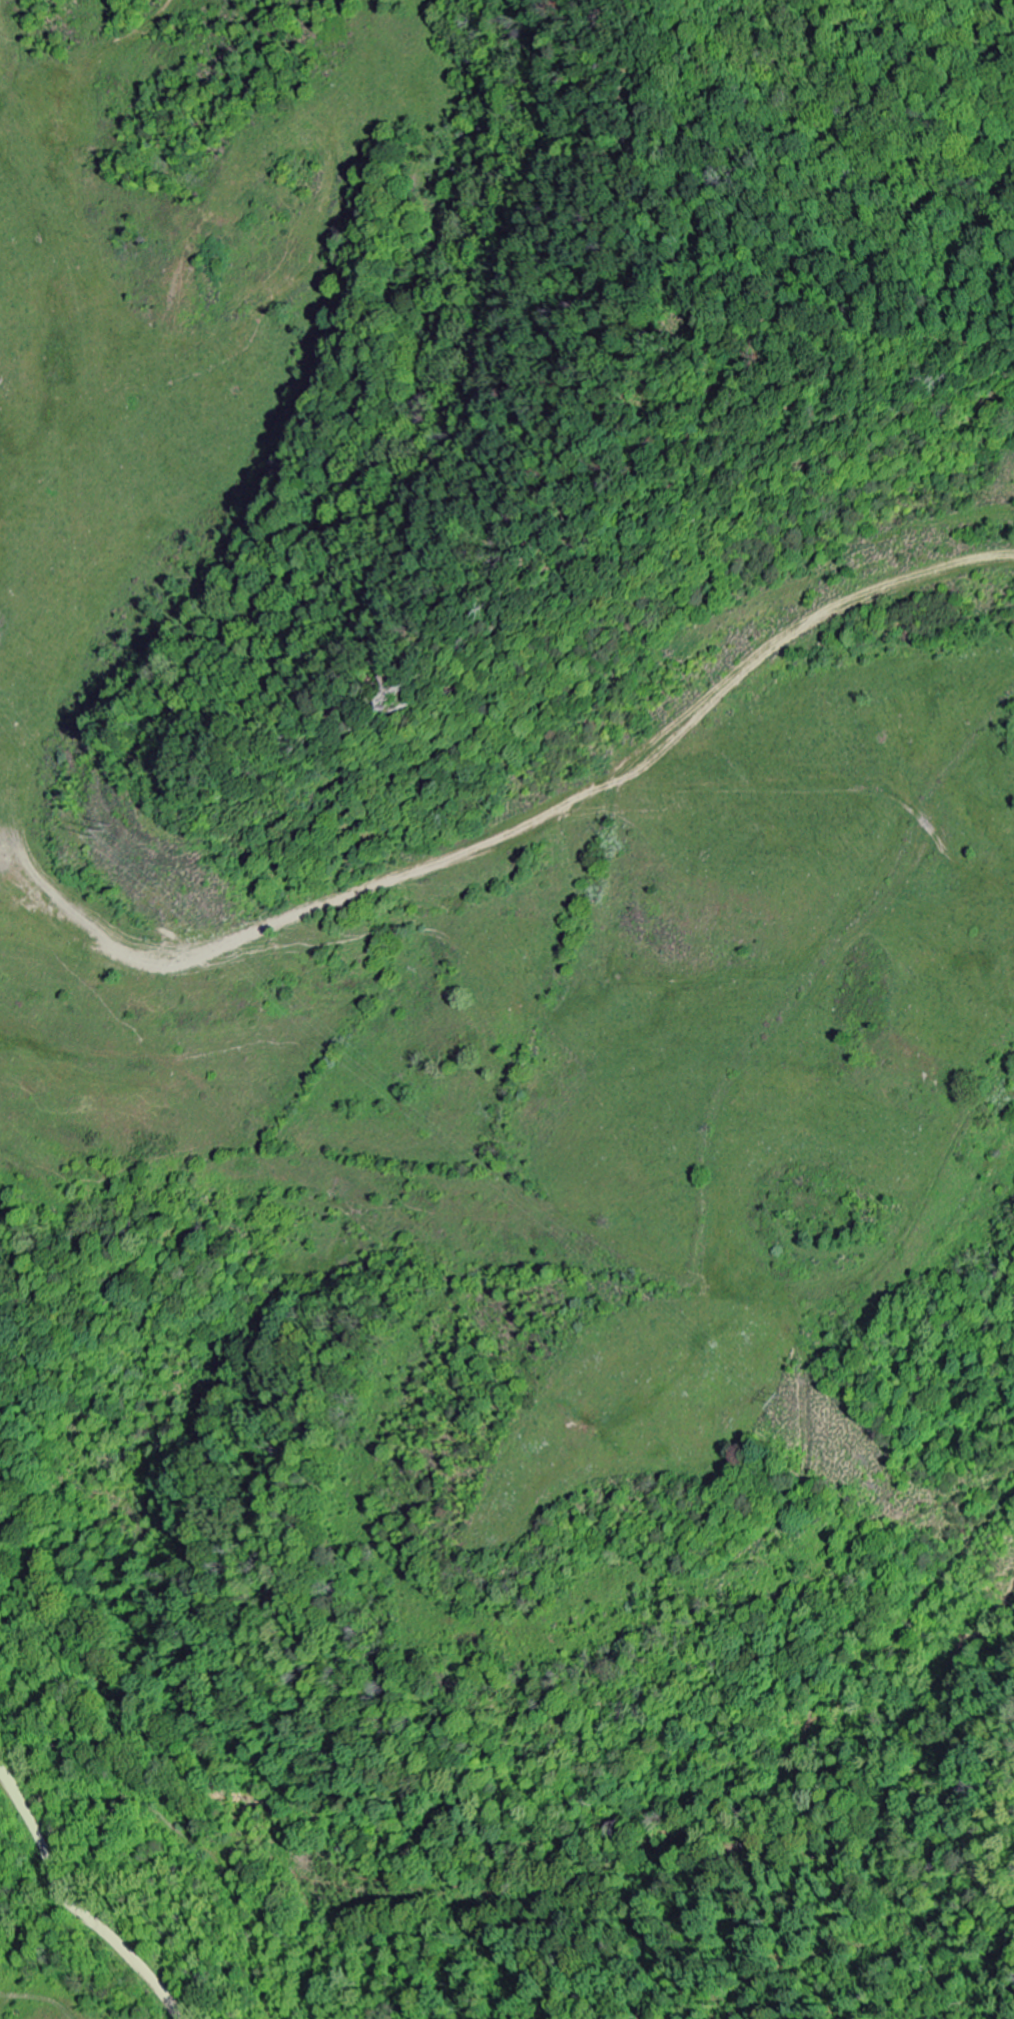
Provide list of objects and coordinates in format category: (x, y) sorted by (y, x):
power tower: (785, 1393)
road: (2, 1781)

